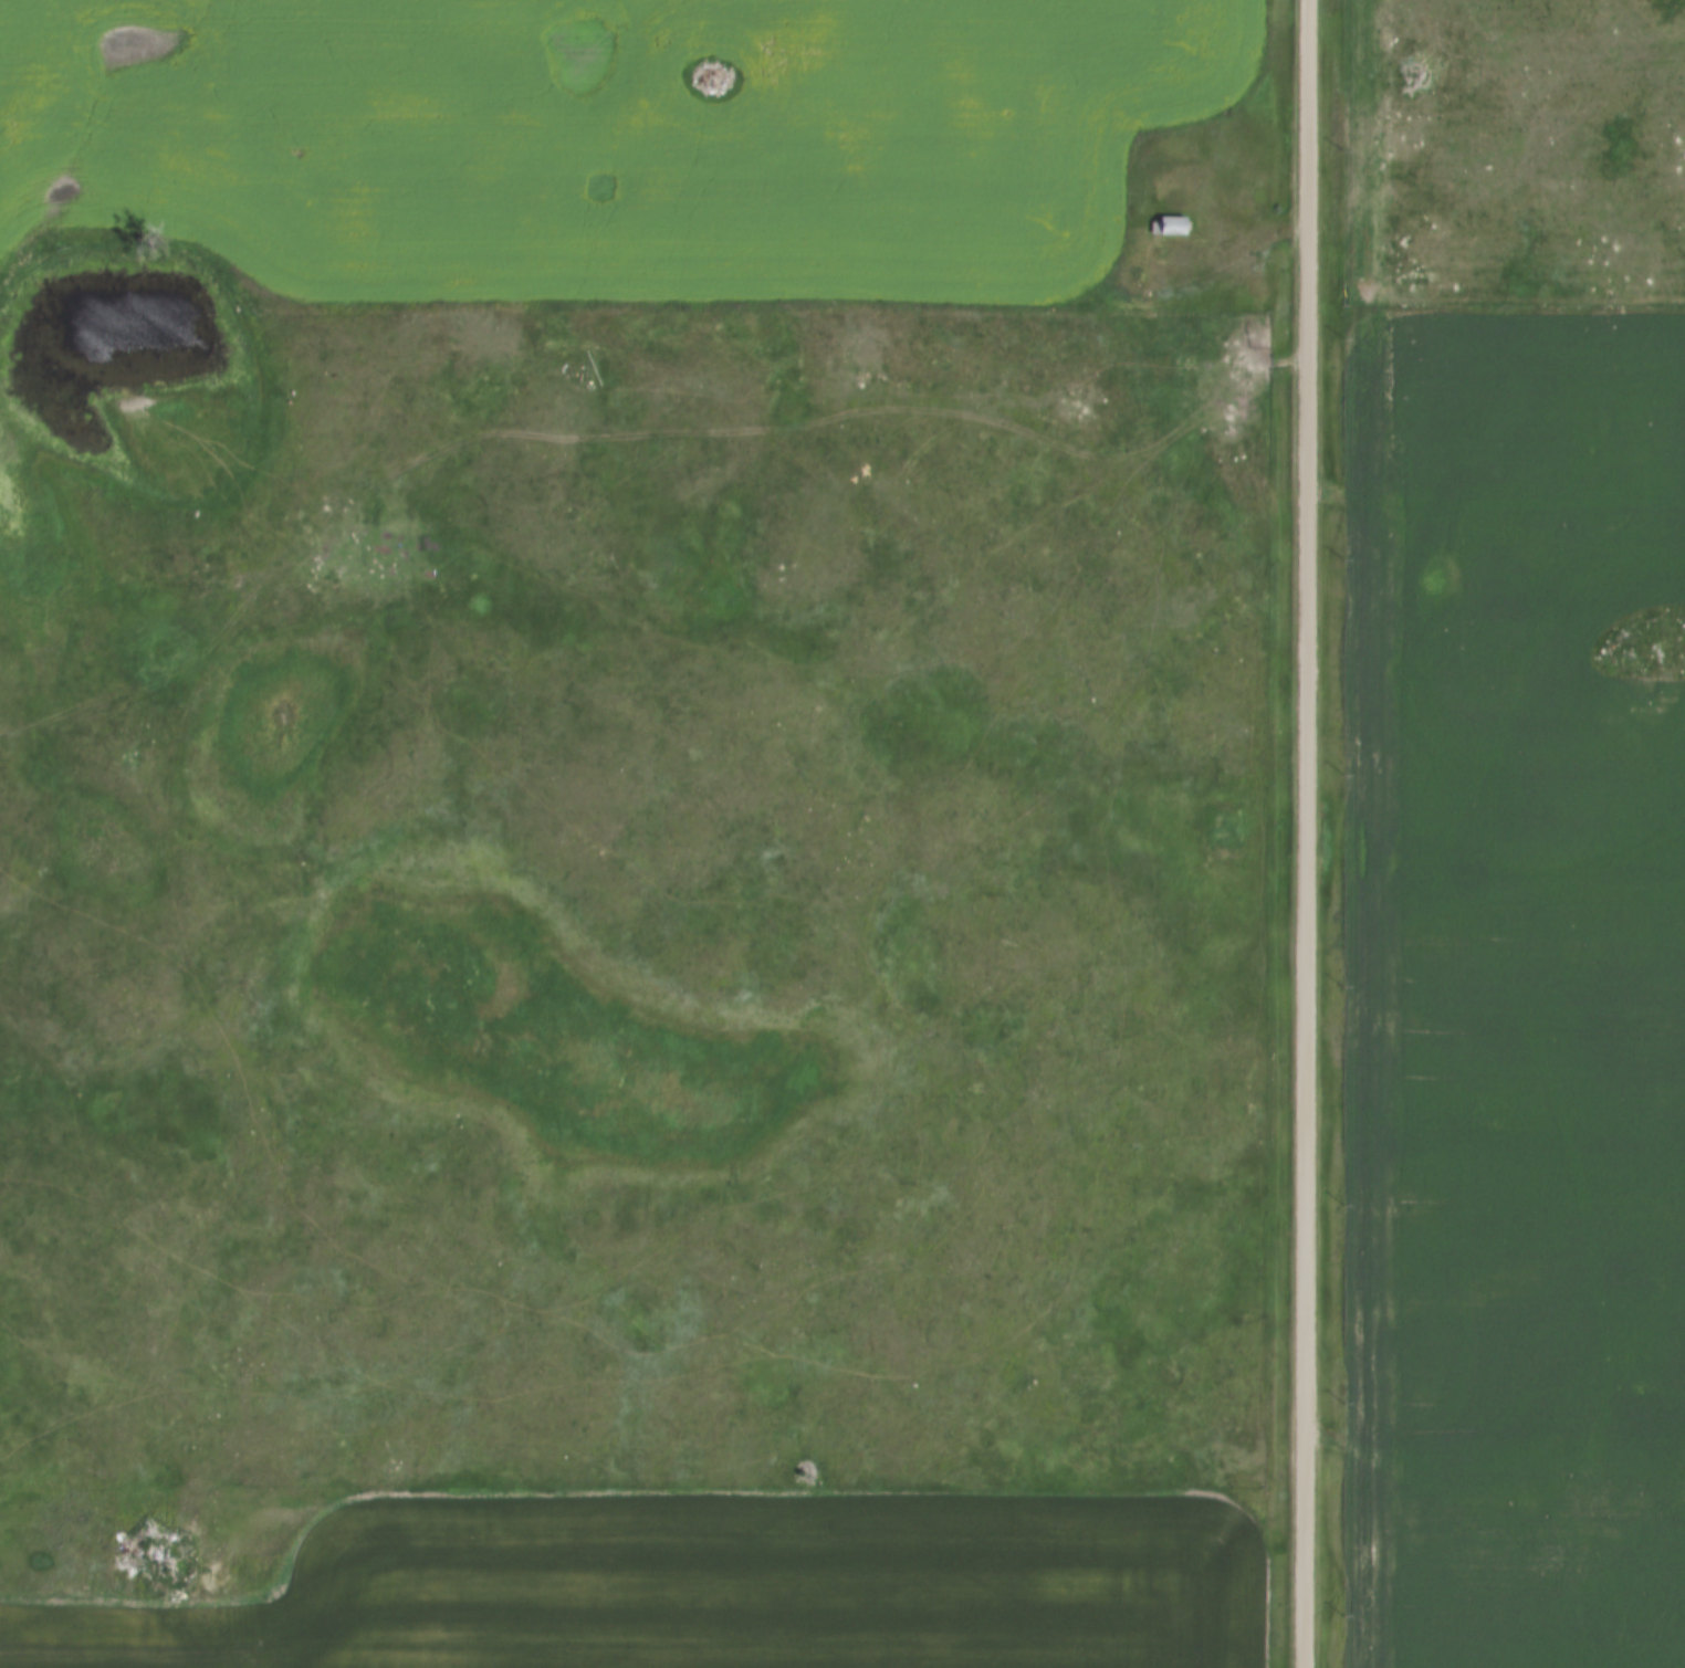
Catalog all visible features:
building: (1169, 224)
road: (616, 433)
road: (1305, 833)

